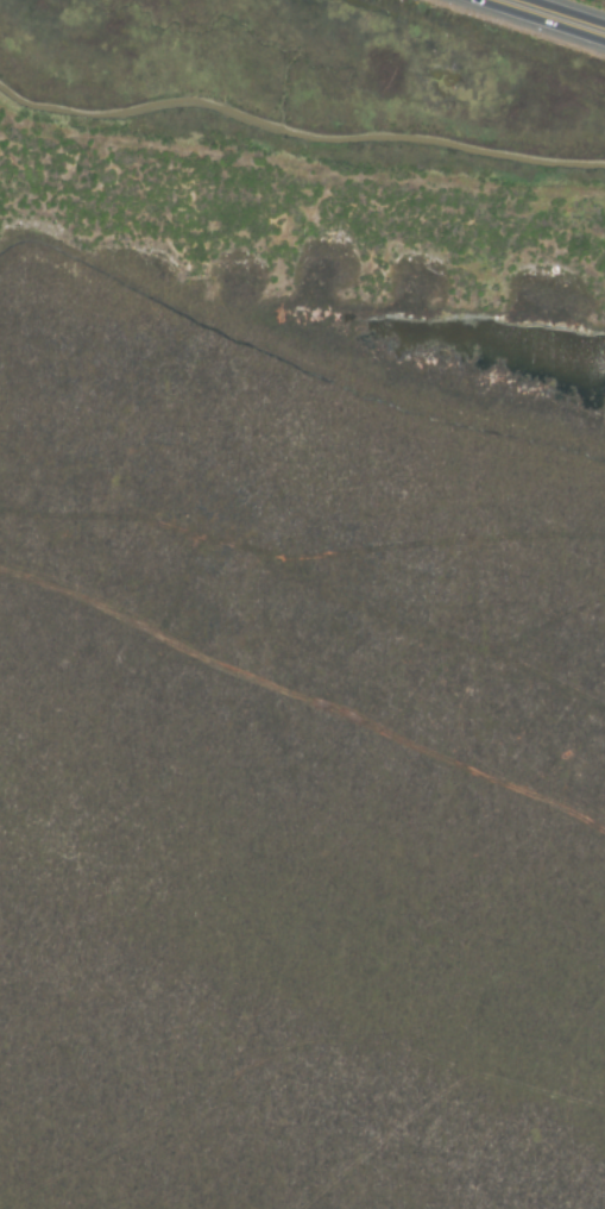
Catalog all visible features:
road: (554, 15)
road: (528, 24)

